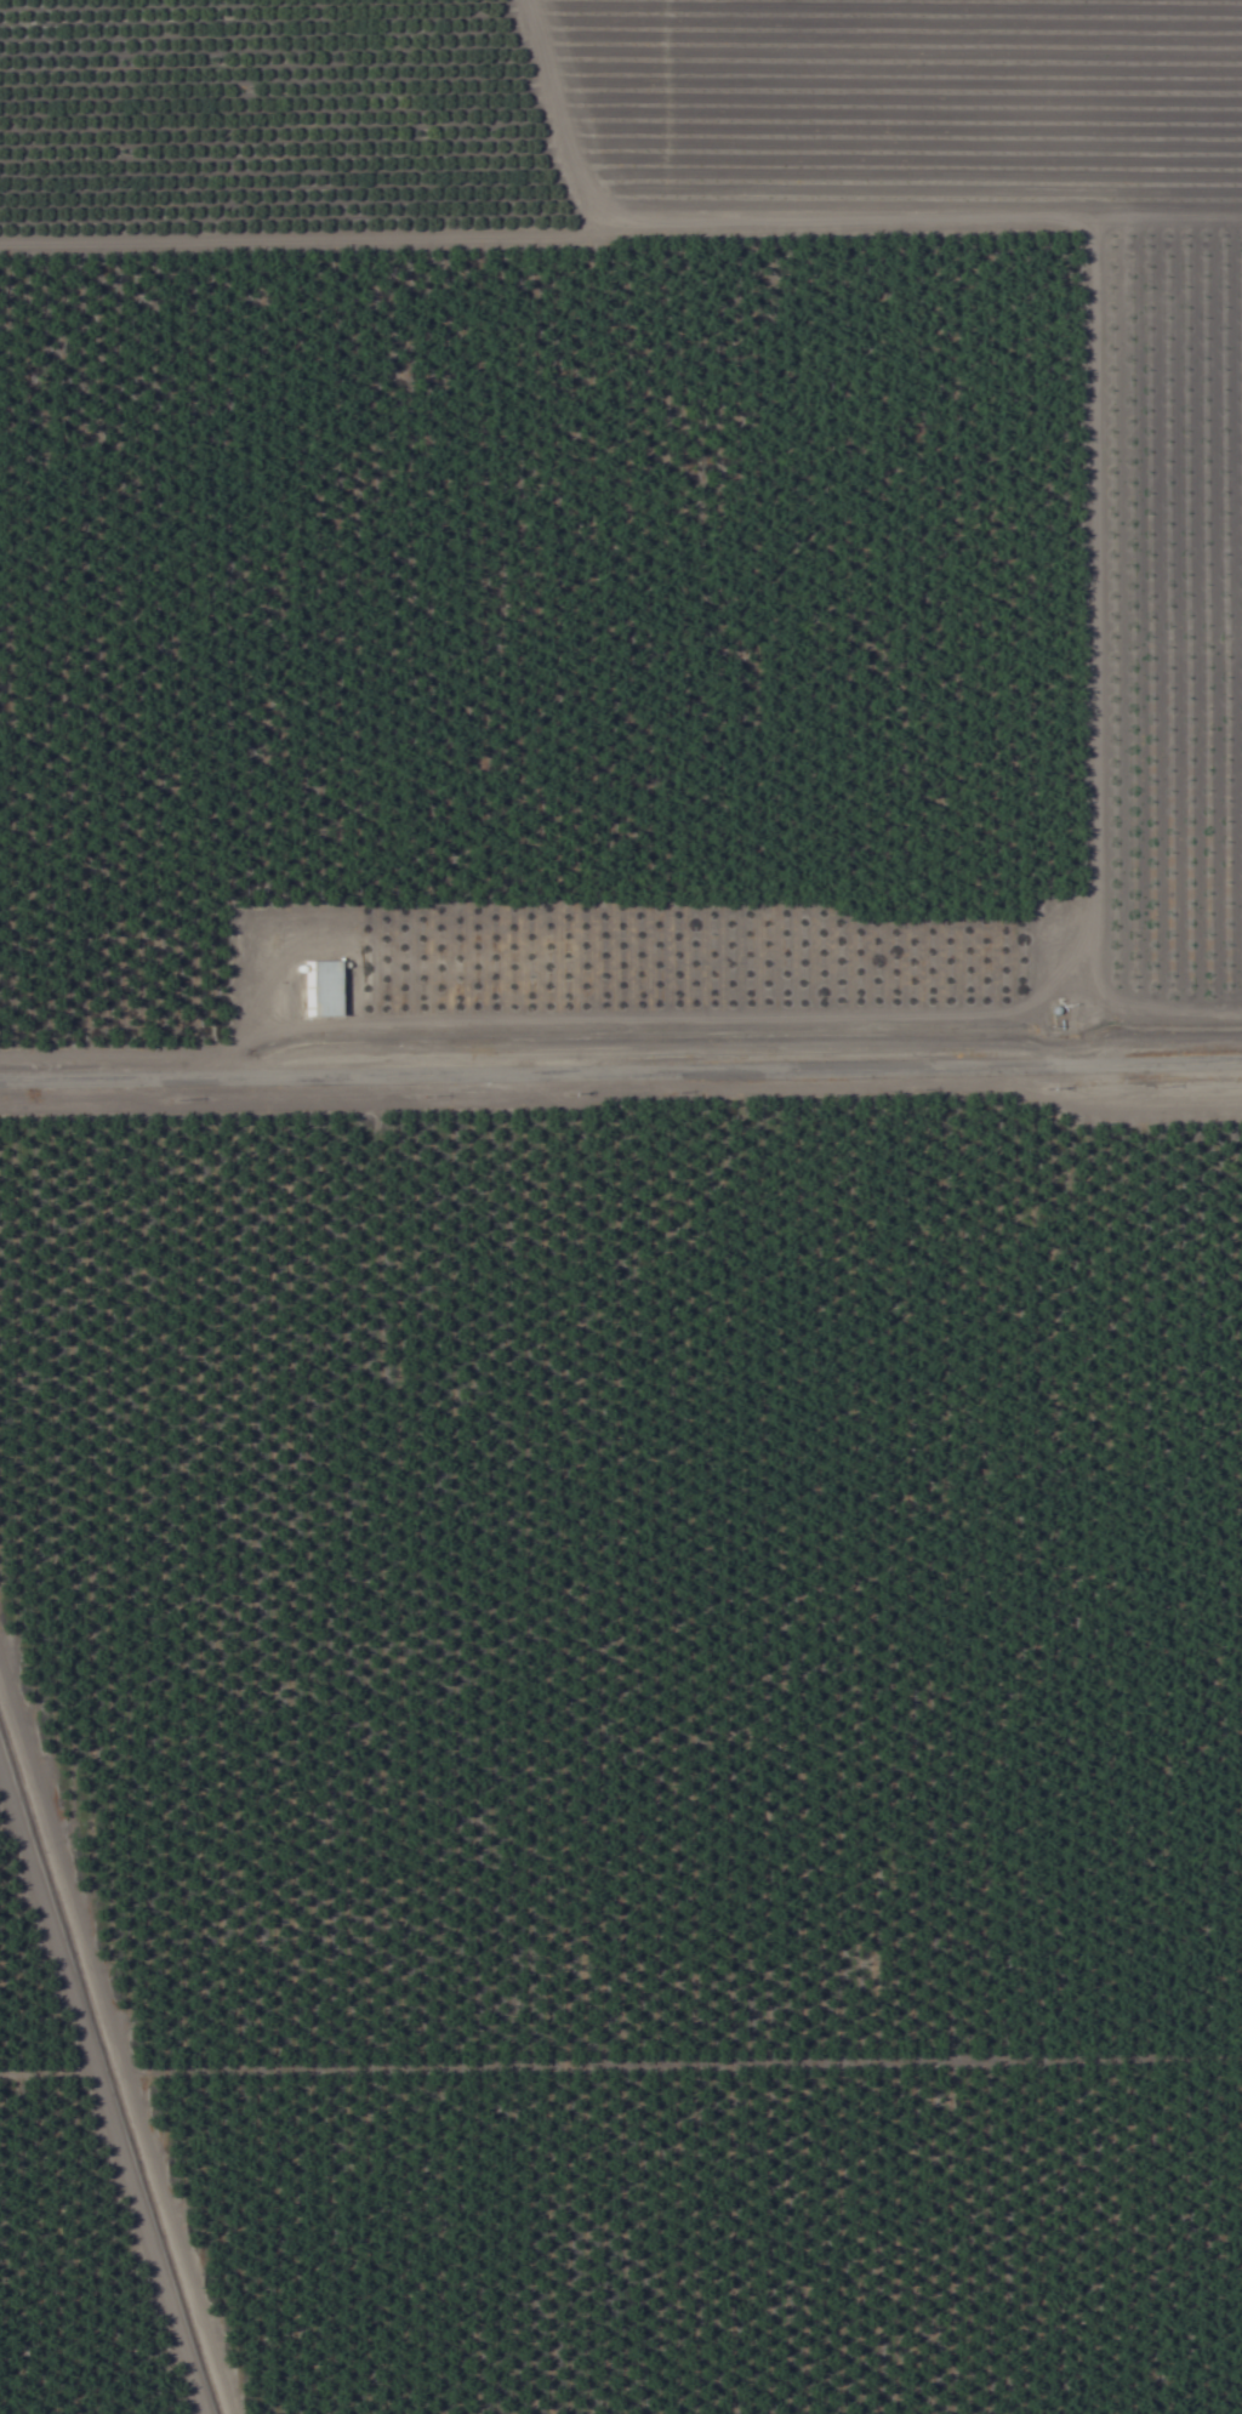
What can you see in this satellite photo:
building: (325, 990)
building: (536, 991)
building: (461, 994)
road: (621, 1063)
crop: (621, 1207)
building: (543, 1430)

